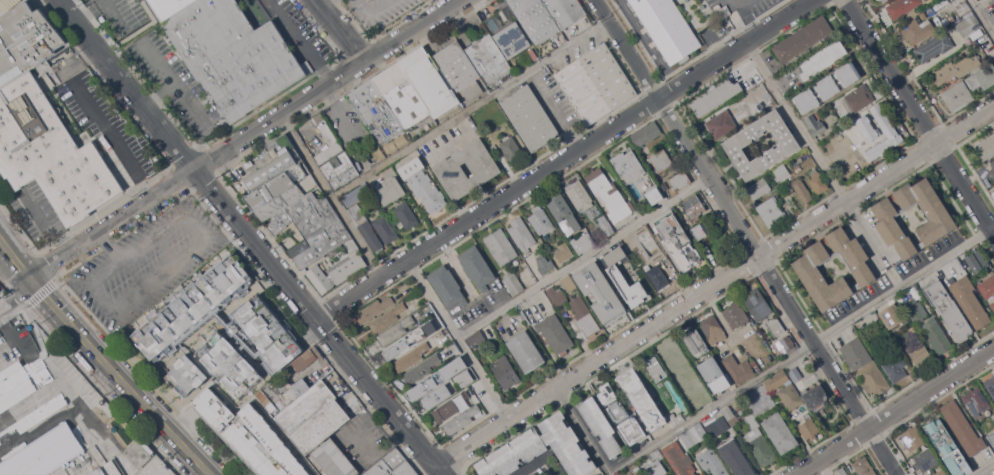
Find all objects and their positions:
building: (881, 0)
building: (884, 1)
road: (325, 2)
road: (980, 3)
road: (85, 6)
building: (170, 7)
building: (902, 7)
building: (962, 9)
road: (374, 10)
road: (113, 11)
road: (744, 13)
building: (548, 17)
road: (982, 18)
building: (968, 26)
building: (666, 27)
road: (340, 30)
building: (917, 30)
building: (507, 32)
building: (803, 39)
building: (25, 41)
road: (301, 41)
building: (934, 47)
building: (423, 52)
building: (235, 55)
building: (488, 56)
building: (823, 58)
building: (955, 69)
building: (459, 70)
road: (169, 76)
building: (982, 77)
building: (595, 84)
building: (829, 86)
building: (438, 93)
building: (716, 96)
building: (958, 96)
road: (186, 99)
building: (860, 99)
building: (390, 101)
road: (470, 108)
road: (554, 111)
road: (341, 115)
road: (920, 115)
building: (530, 117)
building: (439, 118)
building: (884, 121)
road: (795, 122)
building: (721, 124)
building: (814, 125)
building: (867, 128)
building: (646, 134)
road: (457, 138)
road: (114, 139)
road: (243, 139)
building: (735, 144)
building: (986, 147)
building: (511, 149)
building: (51, 153)
building: (335, 159)
road: (564, 160)
building: (275, 161)
building: (660, 161)
building: (628, 163)
building: (993, 163)
building: (485, 169)
building: (782, 171)
building: (813, 171)
building: (992, 172)
building: (680, 180)
building: (796, 181)
building: (818, 182)
building: (423, 184)
building: (759, 187)
building: (653, 188)
building: (392, 190)
building: (803, 192)
building: (278, 194)
building: (579, 194)
building: (609, 194)
road: (331, 195)
building: (353, 197)
building: (693, 207)
building: (771, 211)
building: (358, 213)
building: (406, 214)
building: (564, 214)
building: (940, 218)
building: (541, 220)
building: (605, 225)
building: (312, 228)
building: (386, 229)
building: (700, 231)
building: (522, 234)
building: (371, 236)
road: (747, 236)
building: (634, 237)
road: (250, 239)
building: (677, 241)
building: (582, 242)
road: (108, 246)
building: (501, 246)
building: (564, 252)
road: (585, 257)
building: (977, 259)
road: (15, 260)
building: (544, 263)
parking lot: (147, 265)
building: (477, 267)
building: (806, 268)
road: (173, 269)
building: (336, 273)
building: (657, 274)
building: (513, 283)
building: (568, 284)
road: (714, 284)
building: (448, 286)
building: (469, 287)
building: (987, 287)
building: (0, 289)
building: (601, 292)
building: (632, 292)
road: (16, 296)
building: (557, 296)
building: (970, 302)
building: (758, 304)
building: (992, 305)
building: (192, 306)
building: (915, 307)
building: (948, 308)
building: (374, 309)
building: (736, 315)
building: (584, 317)
building: (892, 317)
building: (387, 318)
building: (775, 326)
building: (713, 329)
building: (396, 330)
building: (264, 334)
building: (555, 334)
road: (10, 335)
building: (937, 336)
road: (458, 337)
building: (476, 338)
building: (410, 340)
building: (696, 343)
building: (785, 344)
building: (525, 351)
building: (919, 354)
building: (411, 357)
building: (307, 358)
building: (754, 362)
building: (893, 364)
building: (865, 365)
building: (215, 367)
building: (737, 368)
building: (420, 369)
building: (656, 370)
building: (506, 372)
building: (714, 375)
road: (760, 377)
road: (121, 378)
building: (465, 378)
building: (678, 379)
building: (776, 380)
building: (430, 382)
building: (990, 385)
building: (607, 393)
building: (282, 394)
building: (436, 396)
building: (790, 396)
building: (815, 397)
building: (642, 398)
building: (697, 398)
building: (760, 401)
building: (976, 401)
building: (451, 406)
building: (108, 409)
building: (618, 411)
road: (896, 411)
building: (731, 415)
building: (313, 417)
building: (676, 418)
building: (461, 419)
building: (752, 420)
building: (601, 426)
building: (717, 426)
building: (809, 427)
building: (962, 428)
building: (632, 429)
building: (780, 432)
building: (693, 434)
building: (249, 435)
building: (912, 437)
building: (991, 438)
building: (760, 447)
building: (948, 447)
building: (541, 449)
building: (673, 450)
building: (139, 452)
building: (328, 455)
building: (736, 458)
building: (925, 459)
building: (712, 462)
building: (654, 463)
building: (393, 465)
building: (864, 466)
building: (343, 468)
road: (528, 468)
building: (108, 469)
building: (633, 470)
building: (685, 470)
road: (986, 470)
building: (841, 471)
building: (941, 472)

